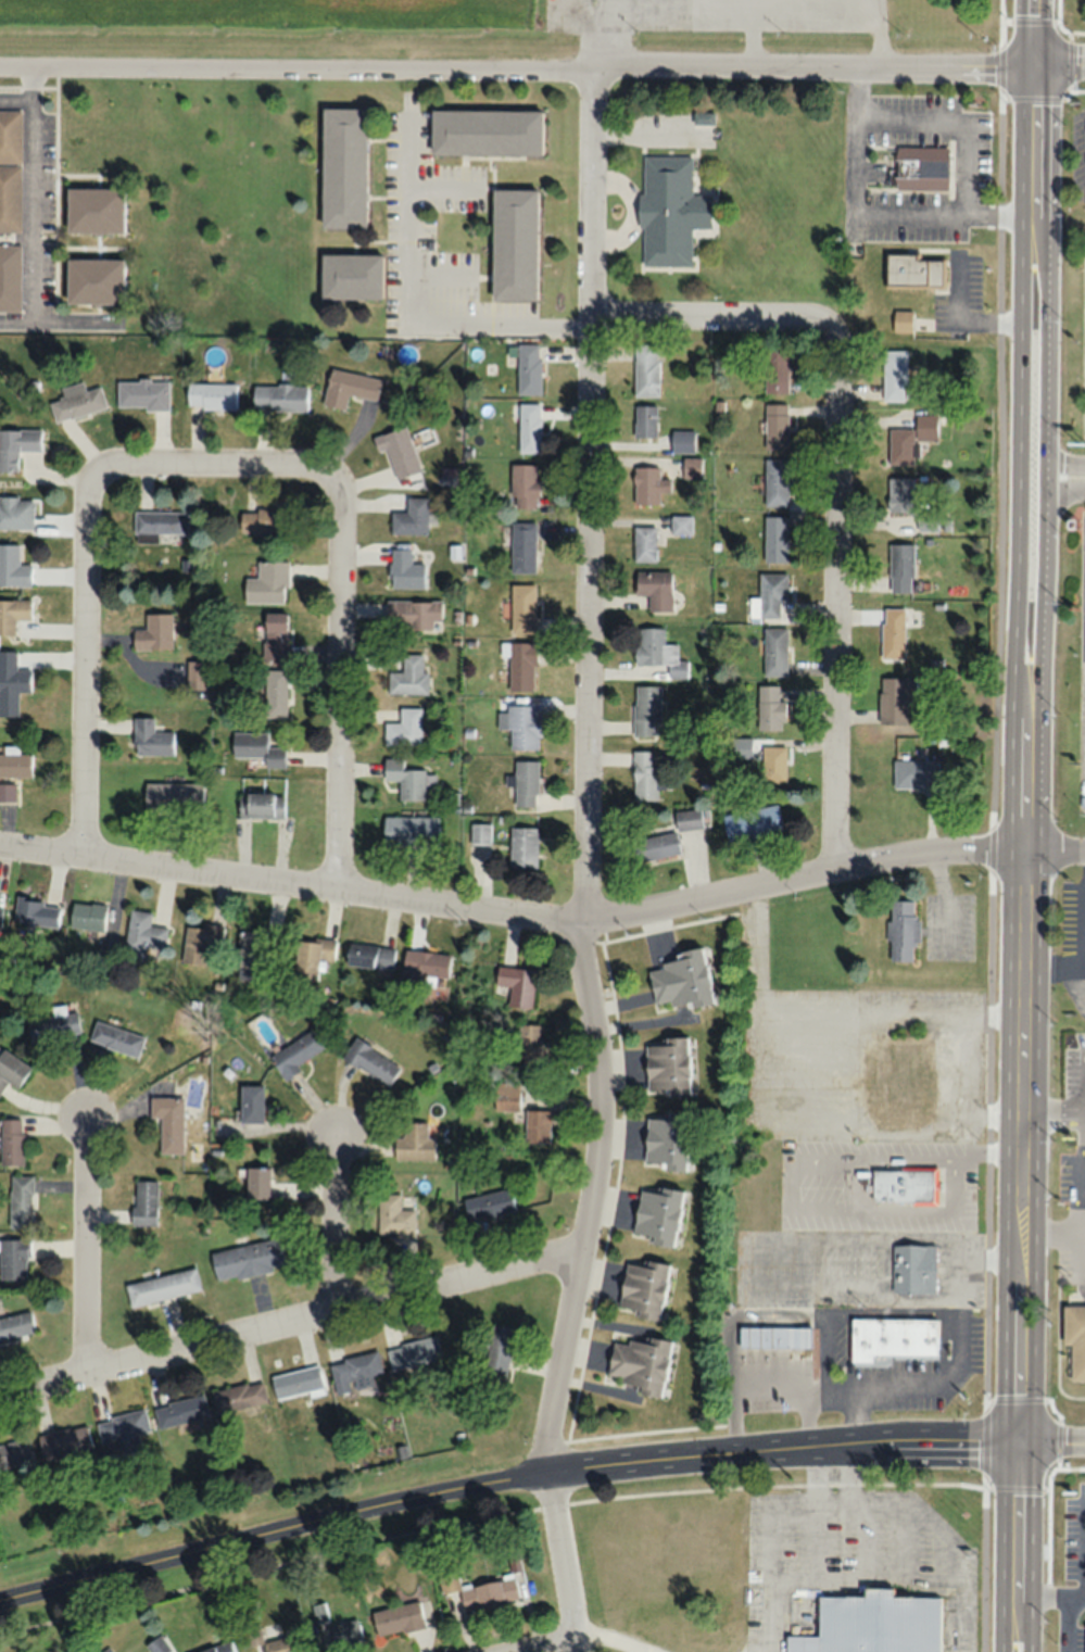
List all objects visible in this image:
crop: (266, 26)
road: (1072, 30)
road: (1000, 31)
road: (1034, 31)
road: (1059, 62)
road: (516, 64)
road: (15, 99)
building: (487, 130)
road: (1033, 137)
building: (913, 165)
building: (343, 166)
building: (10, 169)
building: (94, 209)
road: (30, 210)
building: (670, 210)
building: (514, 243)
building: (914, 270)
building: (351, 275)
building: (10, 277)
building: (93, 279)
road: (411, 310)
building: (903, 319)
building: (529, 368)
building: (646, 369)
building: (777, 373)
building: (894, 375)
building: (349, 387)
building: (142, 393)
building: (212, 395)
building: (281, 398)
building: (77, 401)
building: (645, 421)
building: (777, 426)
building: (529, 428)
building: (911, 440)
building: (682, 441)
building: (16, 445)
building: (399, 451)
road: (1063, 462)
building: (691, 467)
road: (197, 470)
building: (775, 481)
building: (648, 485)
building: (523, 487)
road: (836, 487)
road: (1062, 490)
building: (900, 495)
road: (1018, 499)
road: (1046, 499)
building: (15, 513)
building: (411, 517)
building: (265, 520)
building: (159, 522)
building: (775, 539)
building: (644, 543)
building: (522, 547)
building: (13, 567)
building: (900, 568)
building: (404, 570)
building: (267, 582)
building: (655, 588)
building: (769, 595)
building: (522, 607)
building: (12, 614)
building: (412, 614)
building: (154, 632)
building: (893, 632)
building: (274, 635)
building: (657, 651)
building: (774, 652)
building: (521, 665)
building: (12, 673)
building: (195, 673)
building: (408, 676)
road: (85, 678)
road: (340, 678)
building: (275, 692)
building: (895, 697)
building: (646, 708)
building: (770, 708)
building: (522, 726)
building: (404, 727)
building: (151, 737)
building: (256, 748)
building: (14, 762)
building: (772, 764)
road: (584, 769)
building: (913, 772)
building: (644, 774)
building: (408, 779)
building: (525, 783)
building: (173, 796)
building: (260, 805)
building: (687, 819)
building: (750, 823)
building: (409, 830)
building: (479, 833)
building: (522, 846)
building: (654, 846)
road: (991, 857)
building: (37, 911)
building: (88, 916)
building: (0, 918)
road: (542, 922)
building: (901, 930)
building: (142, 934)
building: (200, 941)
road: (1083, 942)
building: (257, 950)
building: (312, 955)
building: (370, 955)
building: (426, 962)
road: (1051, 971)
building: (679, 980)
building: (517, 984)
building: (54, 1025)
building: (116, 1038)
building: (528, 1050)
building: (295, 1051)
building: (371, 1061)
building: (667, 1067)
building: (11, 1070)
building: (252, 1104)
road: (1052, 1112)
road: (1020, 1113)
building: (171, 1122)
building: (538, 1126)
building: (220, 1131)
building: (194, 1132)
building: (667, 1140)
building: (12, 1143)
building: (415, 1143)
building: (254, 1183)
building: (906, 1185)
building: (22, 1201)
building: (146, 1202)
building: (489, 1203)
road: (1081, 1212)
building: (657, 1215)
building: (394, 1216)
road: (336, 1222)
road: (1052, 1231)
road: (85, 1249)
road: (1081, 1250)
building: (14, 1259)
building: (248, 1259)
building: (914, 1269)
building: (162, 1287)
building: (643, 1288)
building: (15, 1325)
road: (291, 1327)
building: (774, 1337)
building: (893, 1337)
building: (1075, 1338)
building: (415, 1352)
building: (496, 1359)
building: (640, 1363)
building: (355, 1372)
building: (298, 1383)
building: (240, 1397)
building: (181, 1412)
building: (123, 1433)
road: (1051, 1440)
building: (65, 1441)
building: (15, 1453)
road: (503, 1480)
road: (1017, 1525)
road: (563, 1561)
building: (489, 1594)
road: (1050, 1596)
building: (399, 1618)
road: (1068, 1624)
building: (873, 1625)
road: (1010, 1630)
road: (1021, 1630)
building: (343, 1634)
building: (157, 1644)
building: (280, 1644)
building: (220, 1648)
road: (571, 1651)

